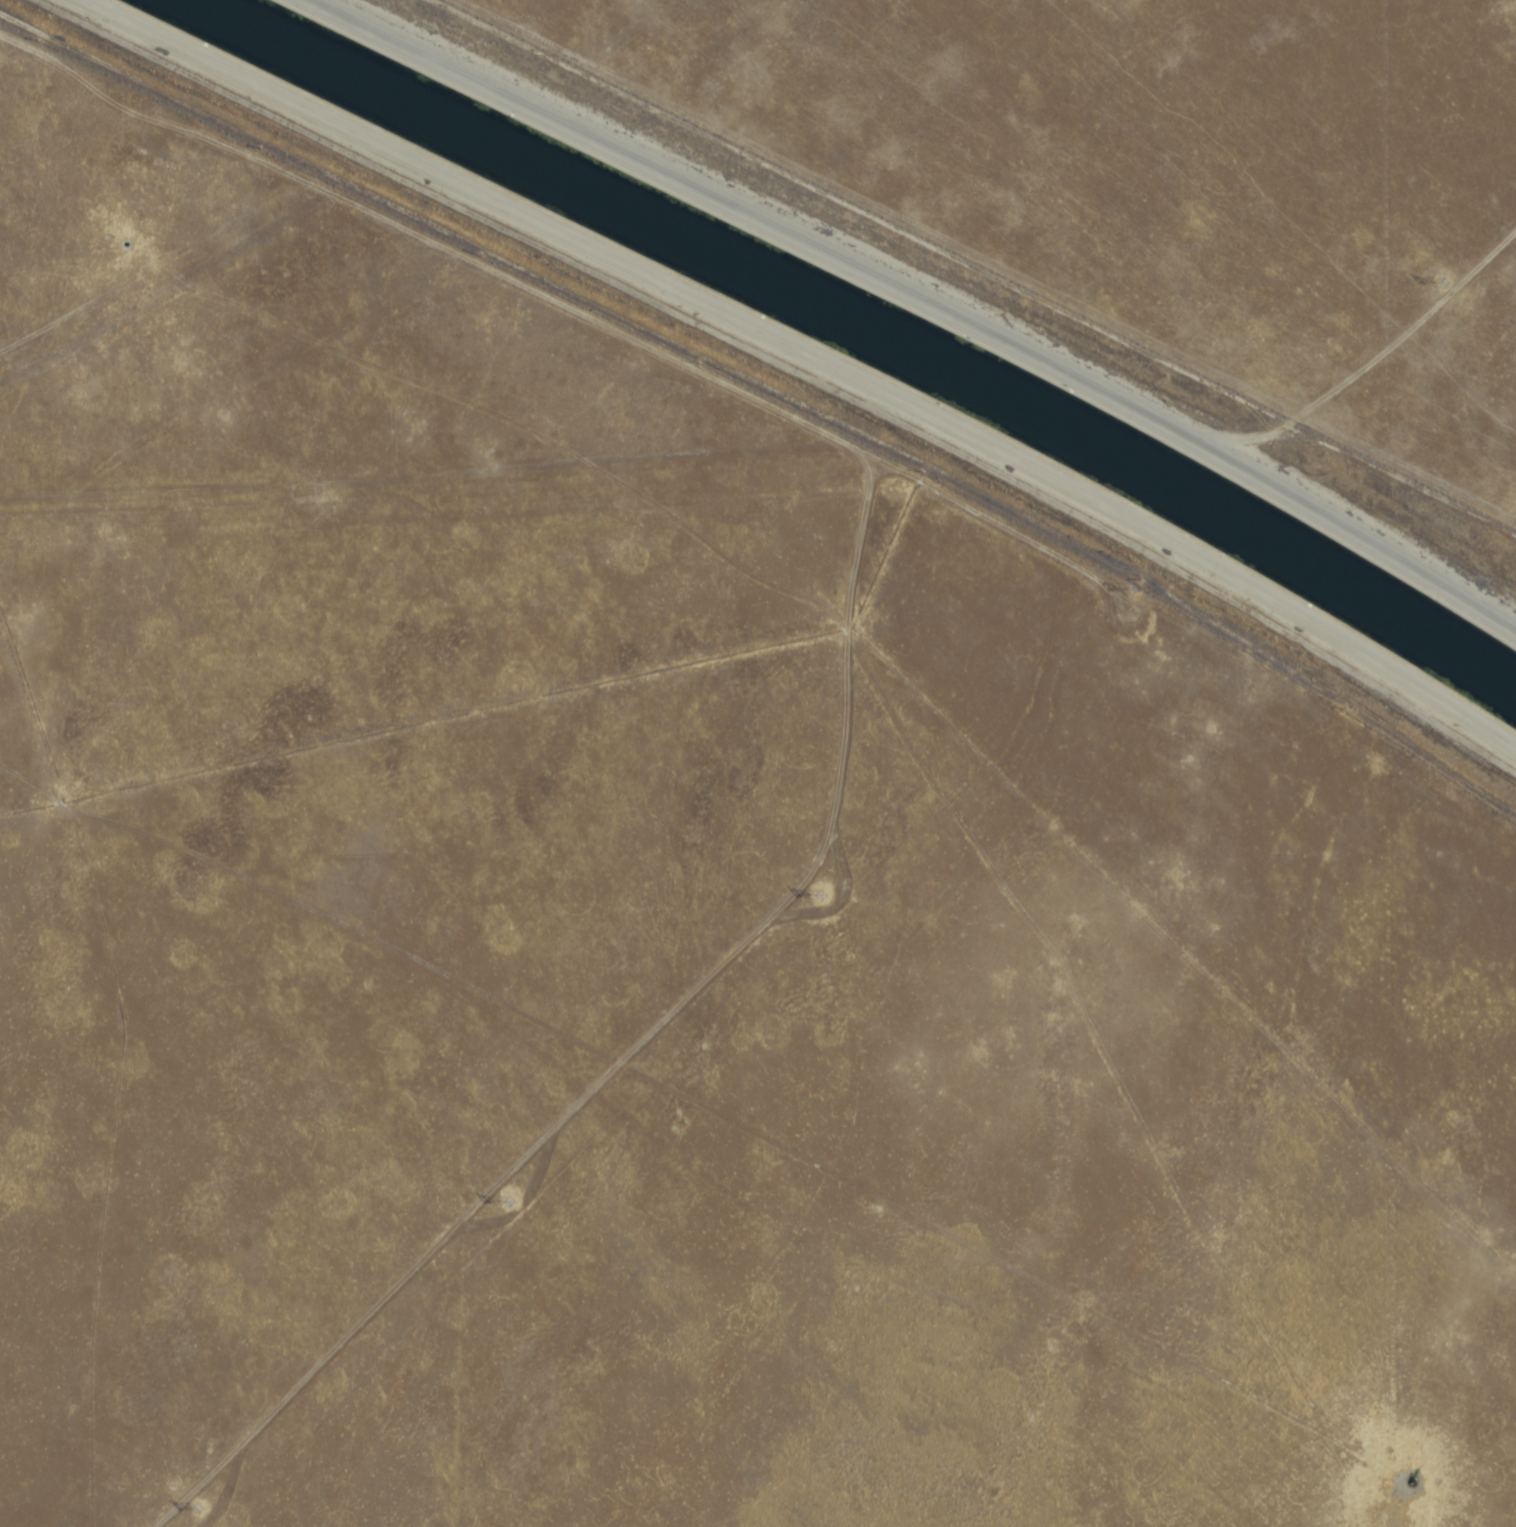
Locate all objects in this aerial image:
road: (977, 265)
power tower: (1447, 277)
road: (924, 299)
road: (809, 355)
road: (1252, 434)
power tower: (1135, 583)
power tower: (822, 893)
power tower: (512, 1199)
power tower: (201, 1505)

